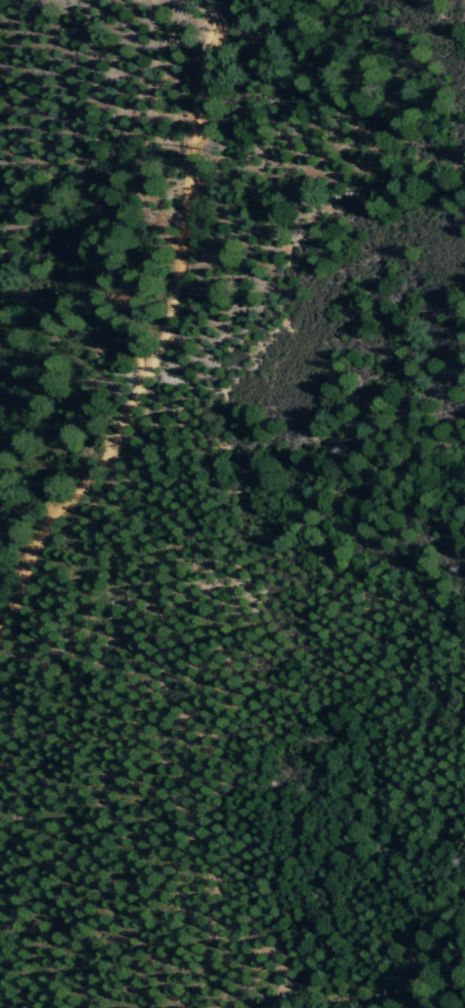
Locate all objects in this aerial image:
road: (161, 334)

